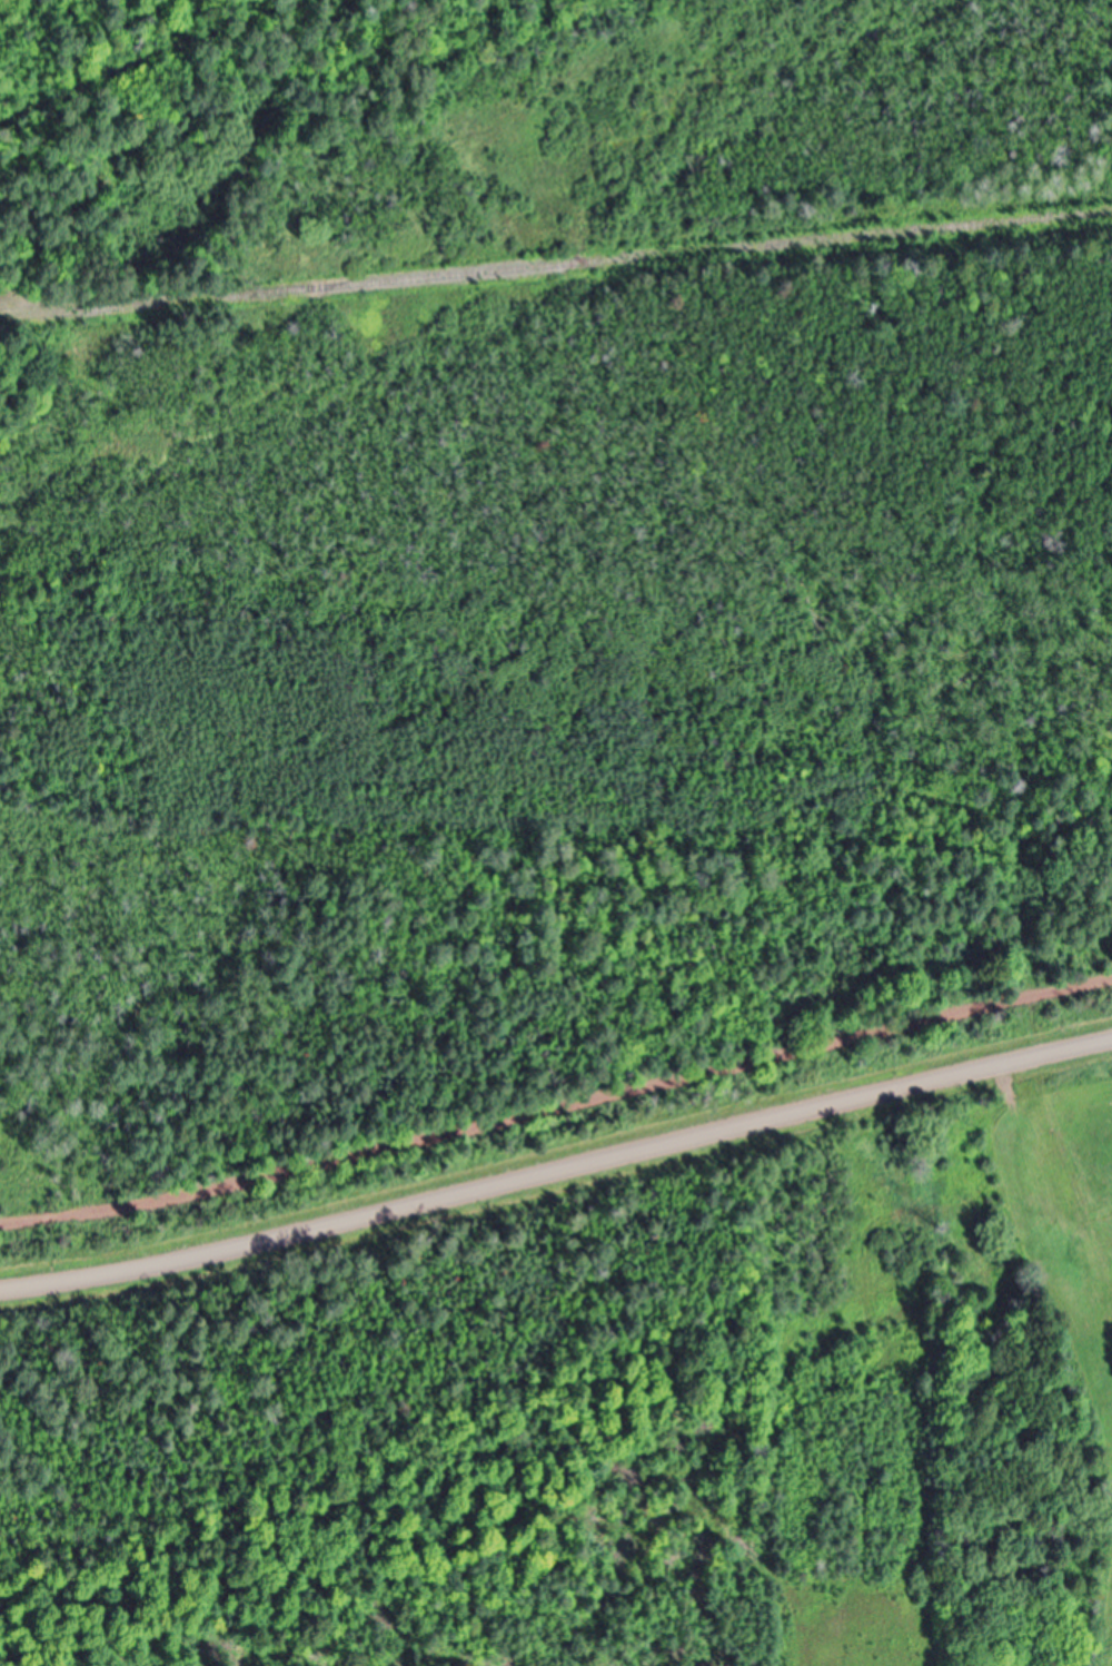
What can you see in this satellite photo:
railway: (556, 266)
road: (584, 1105)
road: (557, 1174)
road: (48, 1221)
road: (20, 1224)

